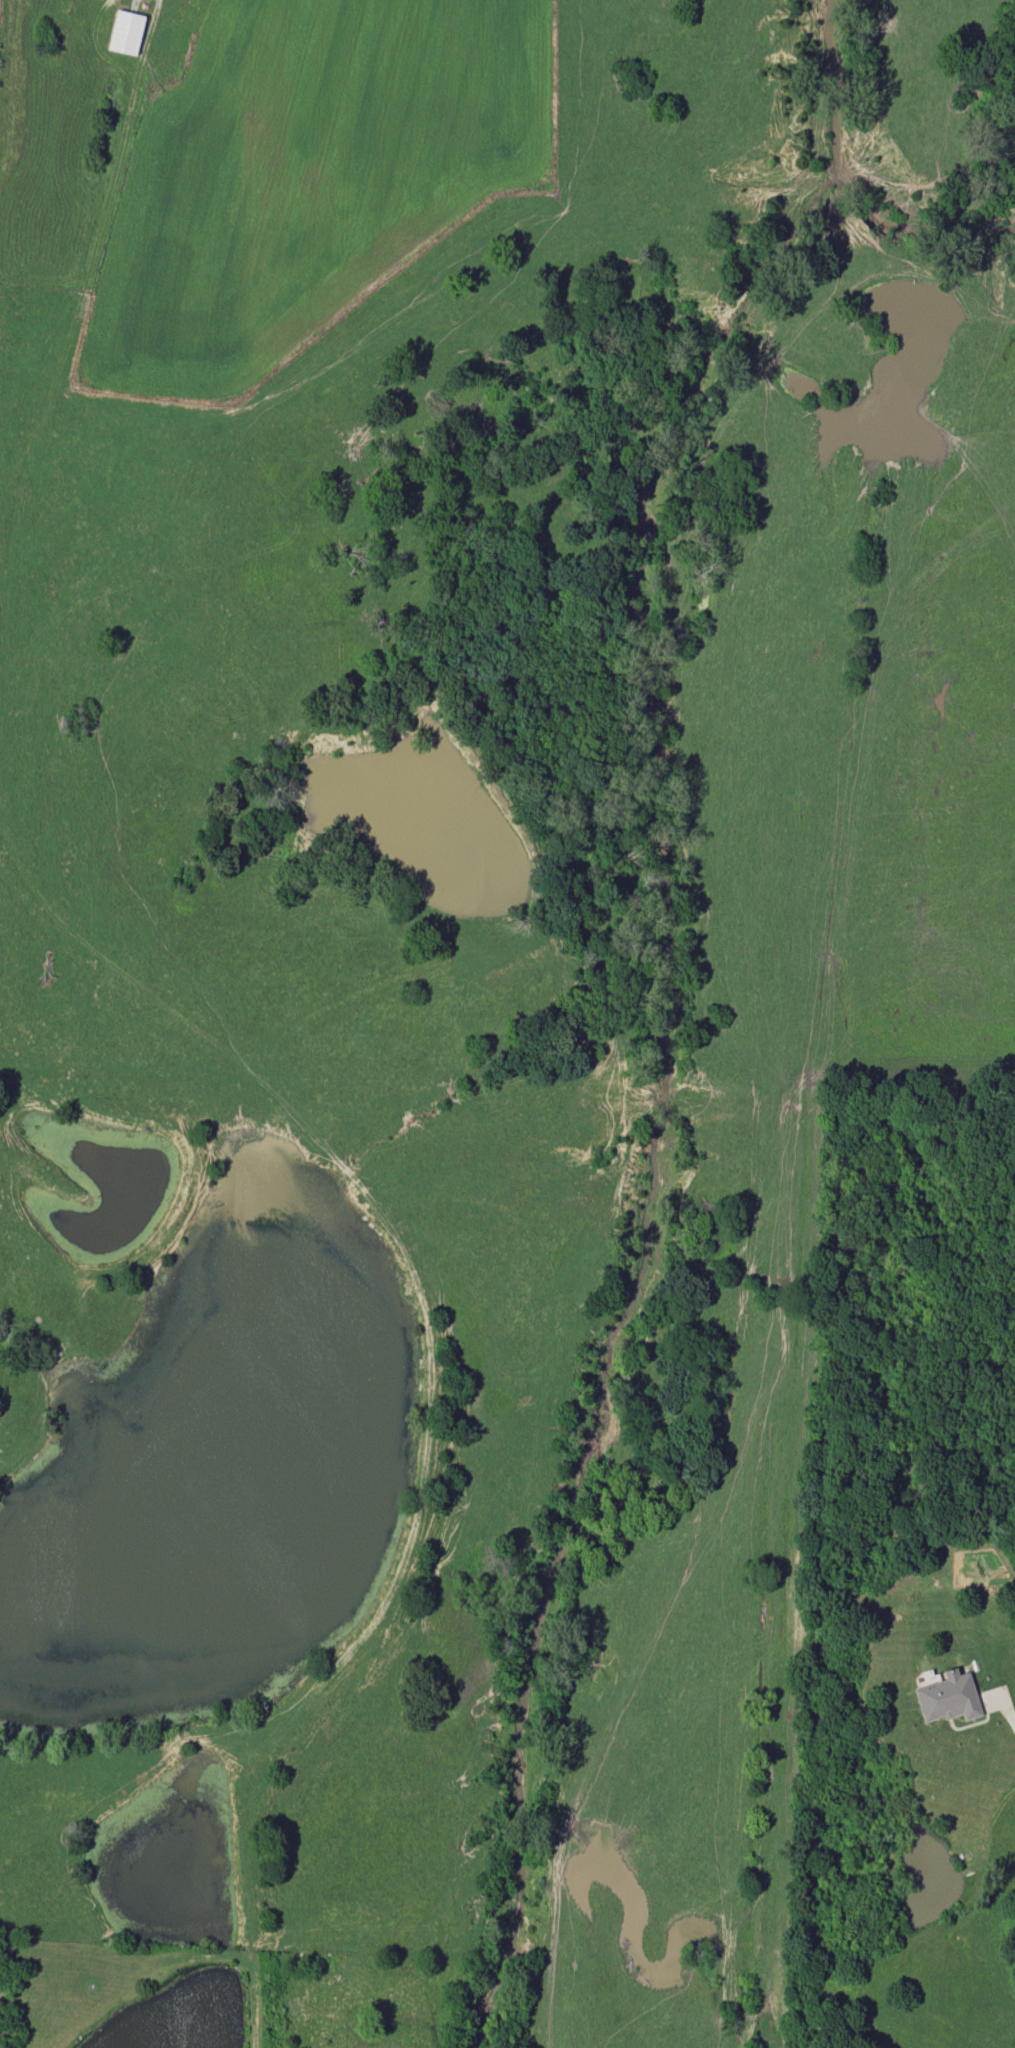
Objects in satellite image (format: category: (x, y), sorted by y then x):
building: (126, 32)
crop: (305, 179)
building: (948, 1697)
road: (1009, 1716)

